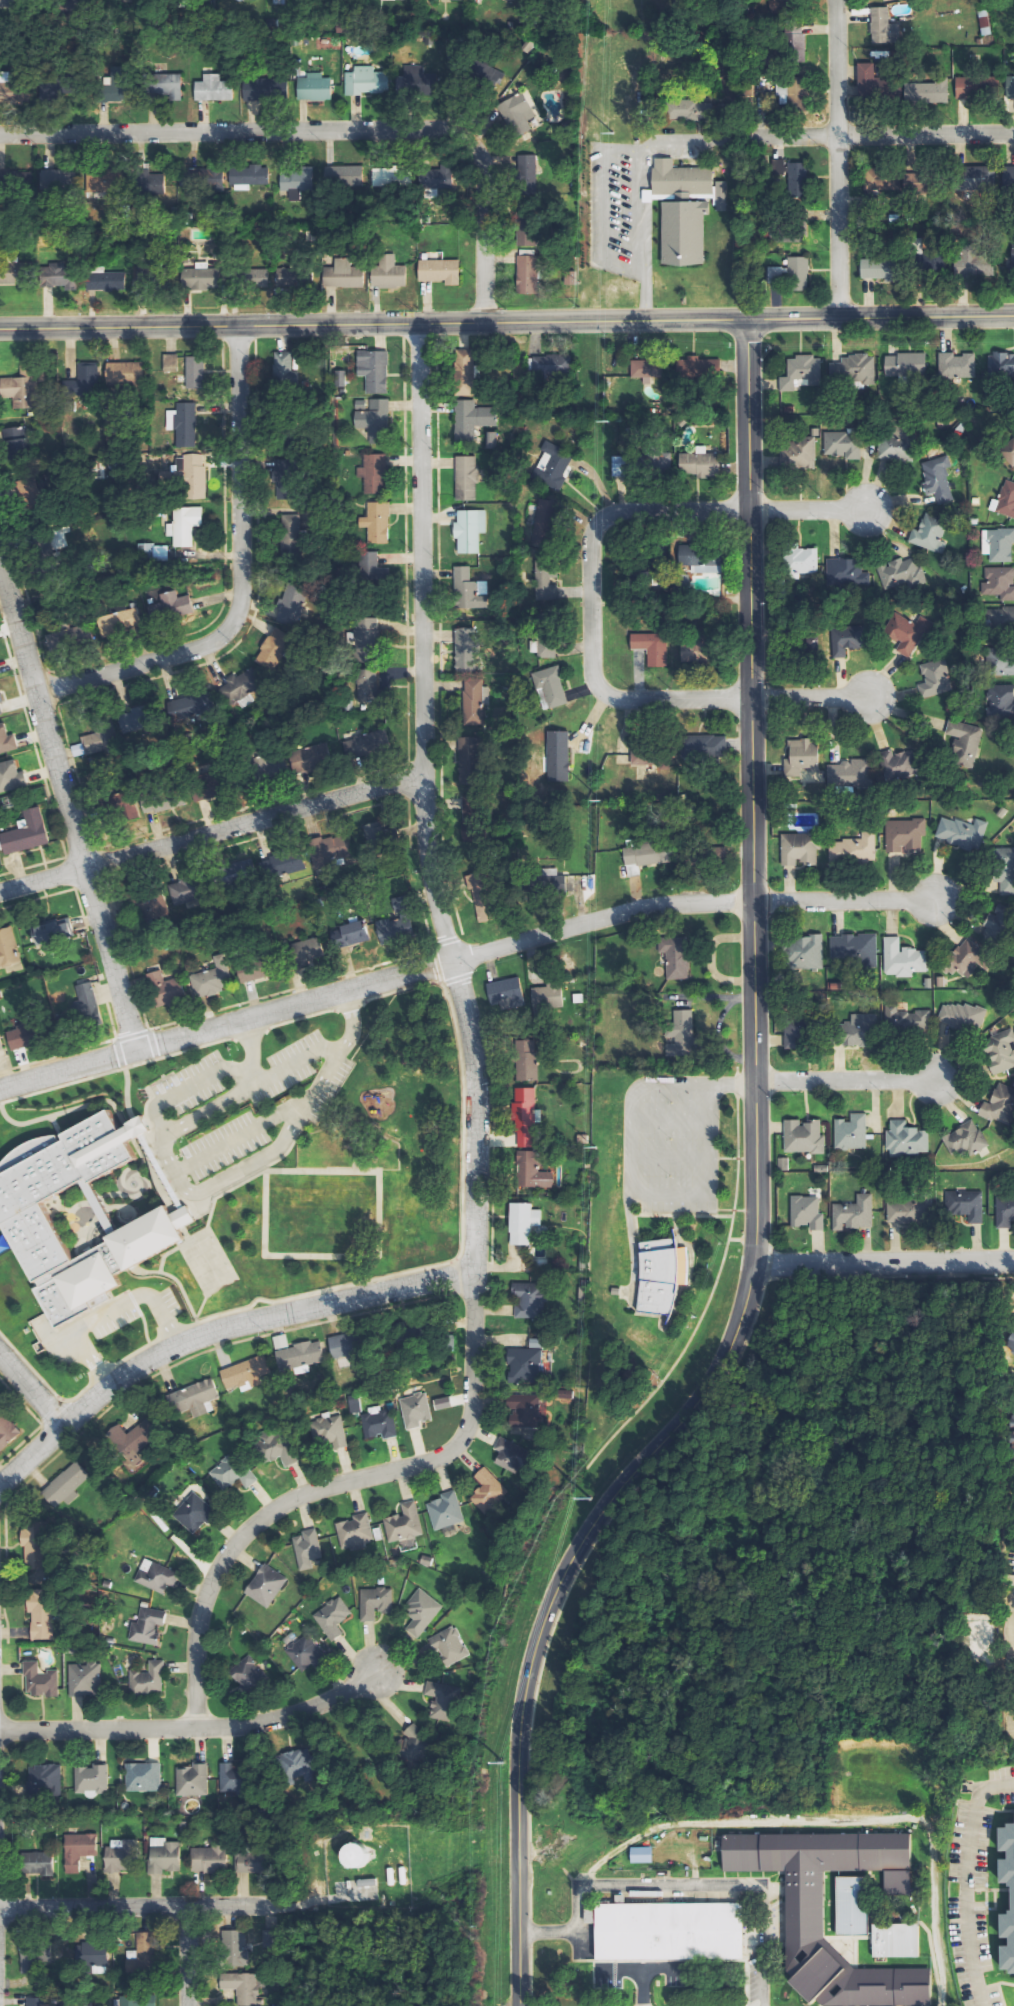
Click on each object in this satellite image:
building: (245, 0)
building: (398, 0)
building: (453, 0)
building: (516, 0)
building: (18, 1)
building: (780, 4)
building: (882, 25)
building: (796, 42)
building: (118, 74)
building: (488, 75)
building: (367, 81)
building: (421, 81)
building: (874, 82)
building: (164, 86)
building: (1010, 87)
building: (7, 88)
building: (266, 88)
building: (315, 88)
building: (214, 89)
building: (789, 92)
building: (927, 93)
building: (691, 110)
building: (518, 114)
road: (328, 130)
road: (884, 134)
road: (838, 157)
building: (530, 171)
building: (345, 176)
building: (249, 177)
building: (392, 177)
building: (792, 177)
building: (979, 178)
building: (438, 179)
building: (681, 179)
building: (1009, 179)
building: (51, 180)
building: (101, 181)
building: (298, 182)
building: (151, 184)
building: (722, 196)
building: (683, 198)
building: (684, 233)
building: (528, 256)
building: (974, 265)
building: (878, 269)
building: (440, 271)
building: (389, 273)
building: (792, 274)
building: (344, 275)
building: (201, 277)
building: (60, 278)
building: (255, 278)
building: (290, 278)
building: (99, 280)
road: (878, 314)
road: (372, 322)
building: (999, 362)
building: (904, 364)
building: (953, 365)
building: (550, 367)
building: (702, 367)
building: (284, 369)
building: (646, 369)
building: (850, 369)
building: (374, 370)
building: (798, 371)
building: (466, 372)
building: (125, 373)
building: (196, 373)
building: (340, 379)
building: (83, 385)
building: (22, 390)
building: (472, 419)
building: (376, 421)
building: (183, 424)
building: (812, 431)
building: (17, 442)
building: (840, 444)
building: (893, 448)
building: (1007, 451)
building: (795, 452)
building: (554, 464)
building: (660, 464)
building: (699, 465)
building: (620, 467)
building: (374, 474)
building: (195, 476)
building: (467, 478)
building: (935, 478)
building: (286, 479)
building: (1005, 499)
road: (805, 509)
building: (378, 523)
building: (185, 525)
building: (470, 531)
building: (927, 532)
building: (293, 536)
building: (999, 543)
building: (154, 553)
building: (796, 559)
building: (707, 563)
building: (373, 568)
building: (843, 572)
building: (899, 572)
road: (242, 578)
building: (545, 580)
building: (997, 582)
building: (469, 590)
building: (291, 604)
building: (173, 605)
road: (590, 607)
building: (997, 616)
building: (903, 631)
building: (78, 634)
building: (845, 638)
building: (368, 640)
building: (809, 642)
building: (545, 647)
building: (653, 648)
building: (275, 649)
building: (468, 649)
building: (693, 652)
building: (999, 657)
building: (932, 679)
building: (372, 685)
building: (245, 687)
building: (551, 688)
building: (1, 694)
road: (808, 698)
building: (999, 701)
building: (474, 702)
building: (191, 706)
building: (139, 720)
building: (7, 739)
building: (98, 742)
building: (962, 742)
building: (363, 743)
building: (705, 747)
building: (559, 756)
building: (798, 756)
building: (310, 757)
building: (652, 757)
building: (470, 761)
building: (893, 763)
building: (271, 764)
building: (847, 772)
building: (11, 776)
building: (206, 786)
road: (750, 791)
building: (164, 800)
building: (129, 805)
road: (67, 806)
building: (998, 811)
road: (211, 832)
building: (959, 832)
building: (27, 833)
building: (902, 834)
building: (797, 847)
building: (851, 848)
building: (334, 851)
building: (648, 853)
building: (286, 863)
building: (1003, 869)
building: (553, 879)
building: (185, 891)
building: (483, 897)
road: (843, 900)
building: (996, 923)
building: (395, 929)
building: (51, 931)
building: (349, 934)
building: (8, 948)
building: (851, 948)
building: (800, 952)
building: (308, 953)
building: (676, 957)
building: (963, 957)
building: (899, 958)
building: (255, 968)
building: (214, 978)
building: (937, 980)
road: (373, 984)
building: (166, 988)
building: (507, 993)
building: (548, 996)
building: (579, 998)
building: (83, 1003)
building: (959, 1016)
building: (902, 1018)
building: (794, 1030)
building: (854, 1030)
building: (682, 1034)
building: (23, 1036)
building: (1, 1044)
building: (997, 1050)
building: (527, 1060)
road: (846, 1080)
road: (475, 1103)
building: (998, 1103)
building: (525, 1117)
building: (848, 1132)
building: (801, 1136)
building: (903, 1139)
building: (962, 1139)
building: (780, 1164)
building: (818, 1167)
building: (533, 1171)
building: (962, 1204)
building: (908, 1210)
building: (1003, 1211)
building: (803, 1212)
building: (850, 1213)
building: (24, 1216)
building: (524, 1223)
road: (884, 1261)
building: (661, 1275)
building: (530, 1300)
road: (214, 1330)
building: (1011, 1343)
building: (342, 1346)
building: (298, 1353)
building: (528, 1362)
building: (246, 1374)
road: (33, 1388)
building: (196, 1397)
building: (443, 1403)
building: (416, 1410)
building: (527, 1413)
building: (380, 1424)
building: (331, 1429)
building: (7, 1430)
building: (134, 1441)
building: (278, 1447)
building: (510, 1455)
building: (1013, 1461)
building: (232, 1473)
building: (67, 1485)
building: (490, 1494)
building: (446, 1511)
building: (195, 1514)
building: (405, 1523)
building: (353, 1532)
building: (36, 1545)
building: (308, 1548)
building: (157, 1576)
building: (267, 1585)
building: (376, 1603)
road: (547, 1605)
building: (422, 1612)
building: (41, 1614)
building: (333, 1617)
road: (1008, 1623)
building: (148, 1626)
building: (450, 1645)
building: (306, 1654)
building: (249, 1672)
building: (85, 1679)
building: (149, 1679)
building: (41, 1681)
building: (445, 1695)
road: (192, 1728)
road: (1004, 1729)
building: (416, 1744)
building: (298, 1765)
building: (143, 1777)
building: (45, 1779)
building: (92, 1780)
building: (192, 1780)
building: (231, 1780)
parking lot: (1001, 1783)
building: (80, 1853)
building: (642, 1855)
building: (124, 1856)
building: (164, 1856)
building: (355, 1857)
building: (210, 1859)
building: (38, 1863)
building: (251, 1863)
road: (964, 1881)
road: (633, 1887)
building: (361, 1890)
building: (1011, 1896)
building: (849, 1905)
parking lot: (968, 1905)
road: (136, 1907)
building: (801, 1917)
parking lot: (767, 1929)
building: (666, 1931)
road: (547, 1932)
building: (271, 1939)
building: (893, 1940)
road: (759, 1946)
building: (236, 1949)
road: (186, 1956)
building: (93, 1957)
building: (35, 1959)
building: (137, 1965)
road: (643, 1969)
parking lot: (644, 1973)
building: (243, 1987)
road: (640, 1987)
building: (135, 2001)
building: (38, 2002)

